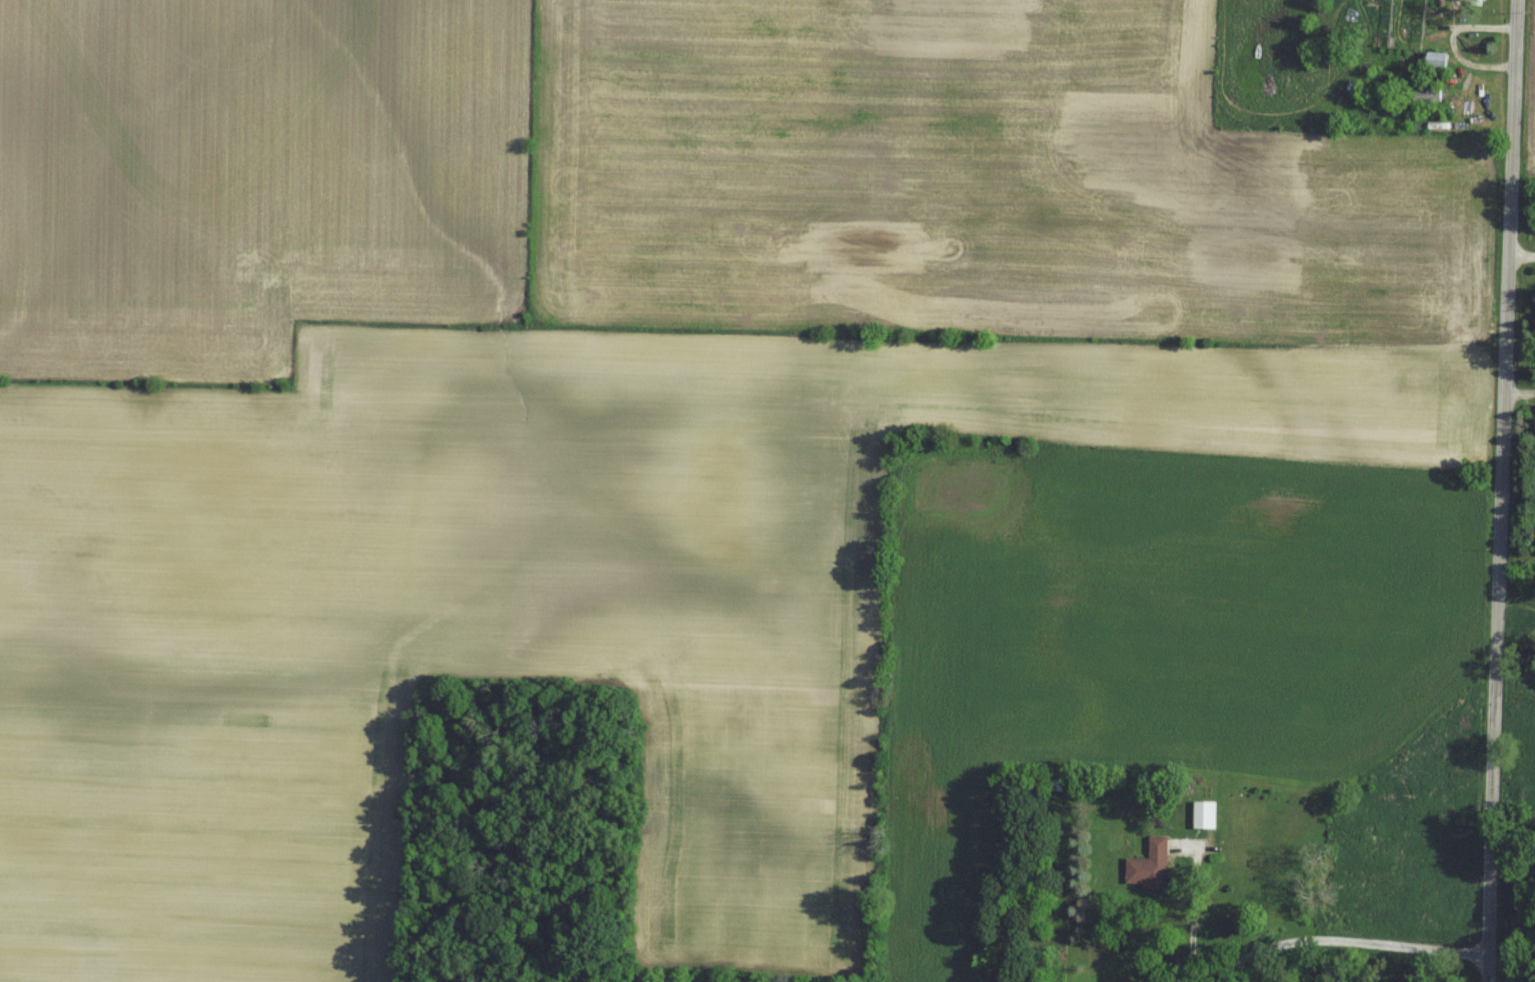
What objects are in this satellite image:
building: (1469, 0)
building: (1437, 58)
building: (1430, 94)
road: (1519, 258)
road: (1499, 490)
building: (1207, 814)
building: (1153, 865)
road: (1370, 964)

